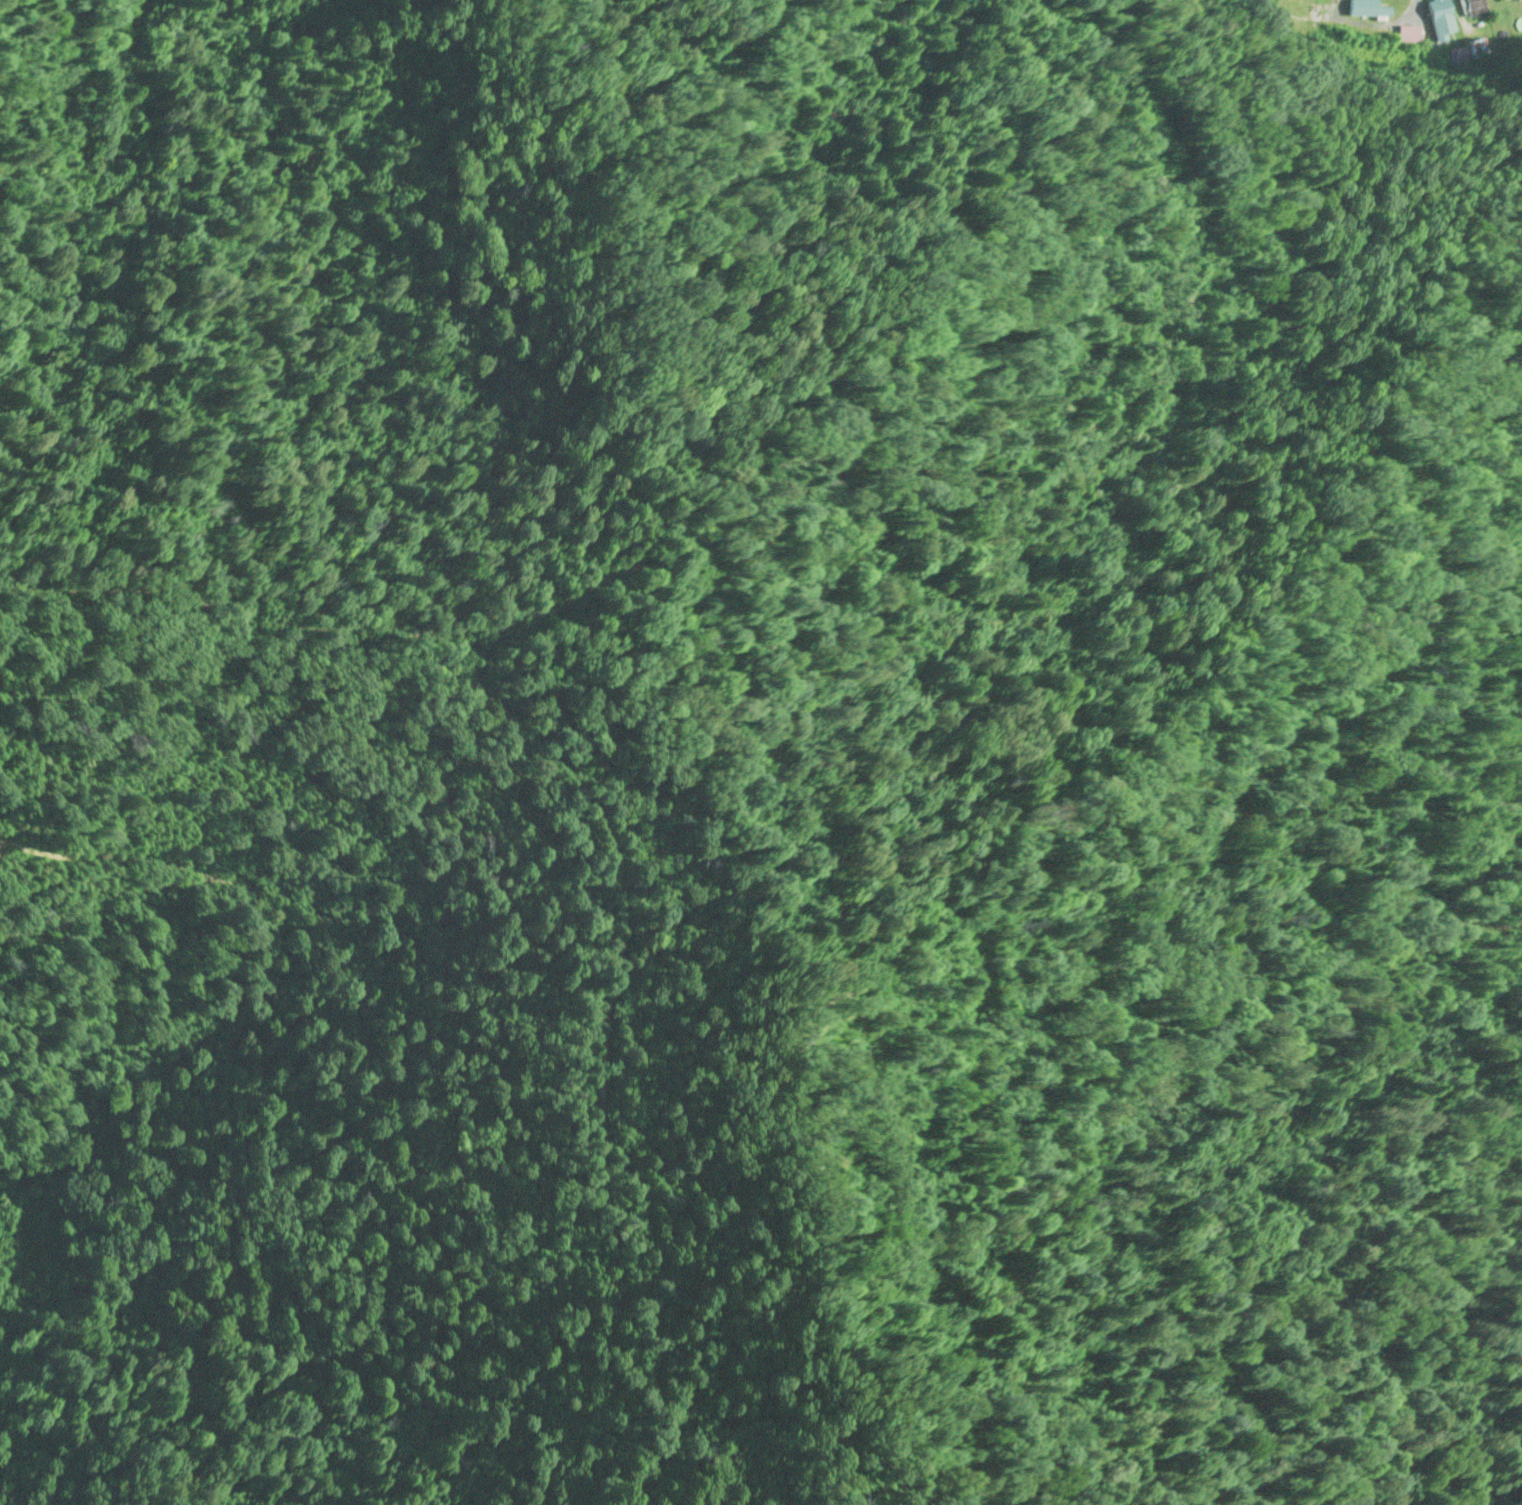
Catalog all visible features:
building: (1475, 8)
building: (1371, 9)
building: (1442, 23)
building: (1474, 50)

